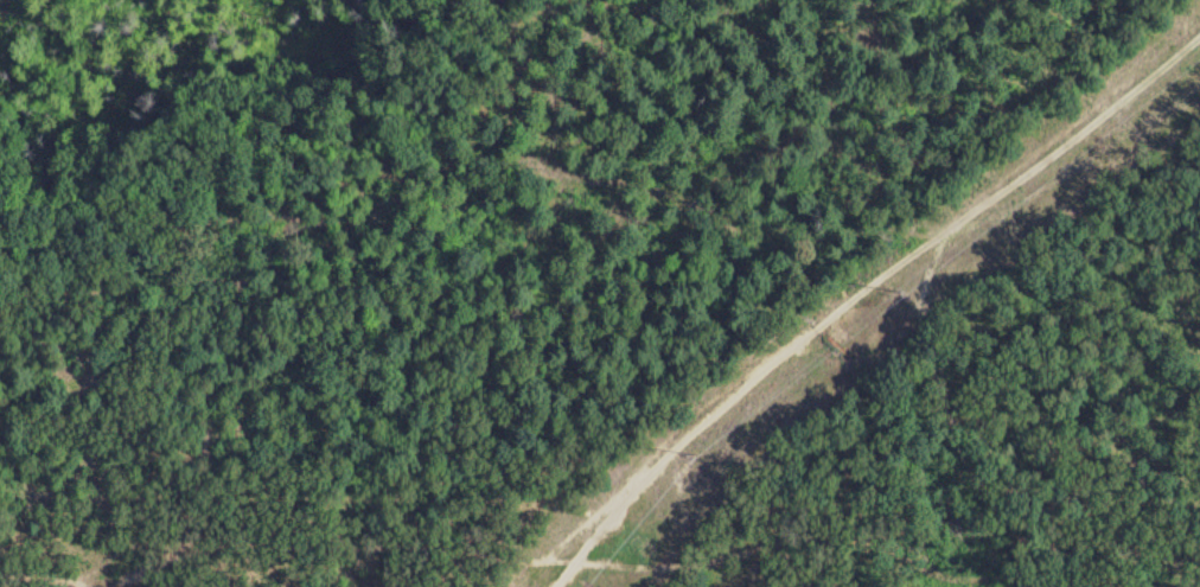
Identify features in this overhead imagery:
road: (652, 561)

